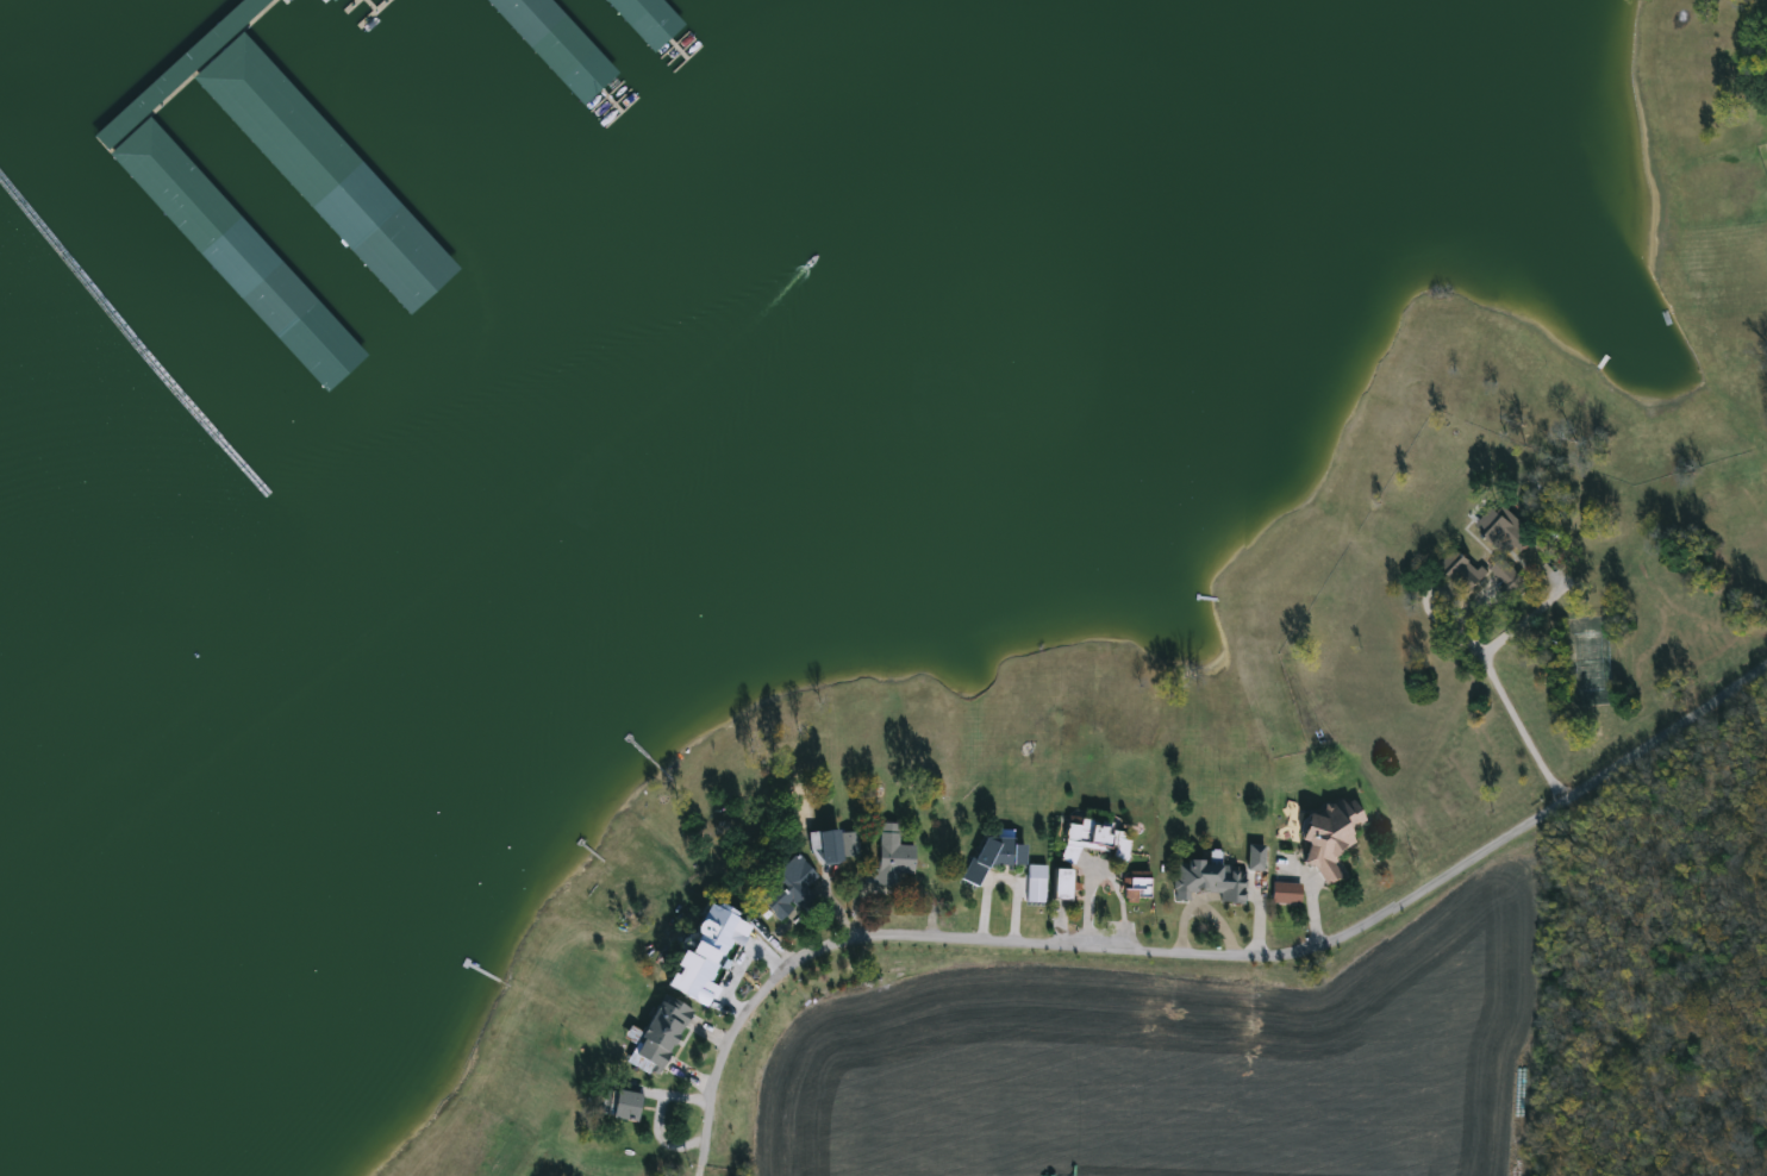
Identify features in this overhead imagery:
building: (332, 0)
building: (276, 121)
building: (185, 198)
building: (1511, 532)
building: (1461, 571)
building: (1503, 573)
road: (1494, 687)
building: (1330, 839)
building: (1094, 843)
building: (836, 847)
building: (997, 855)
building: (894, 857)
building: (1255, 859)
building: (1037, 874)
building: (1213, 882)
building: (1062, 887)
building: (1140, 888)
building: (789, 890)
building: (1287, 895)
road: (1198, 952)
building: (712, 953)
building: (662, 1034)
building: (625, 1108)

